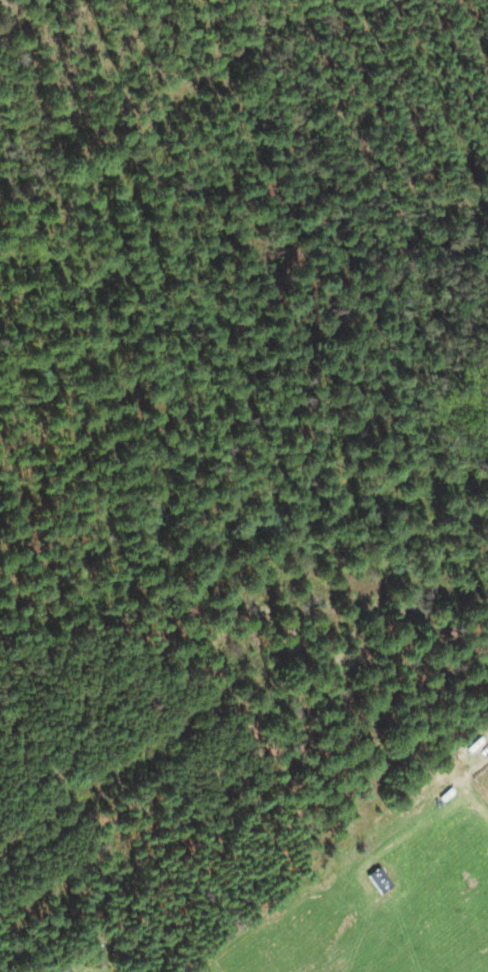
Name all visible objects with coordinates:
building: (65, 970)

